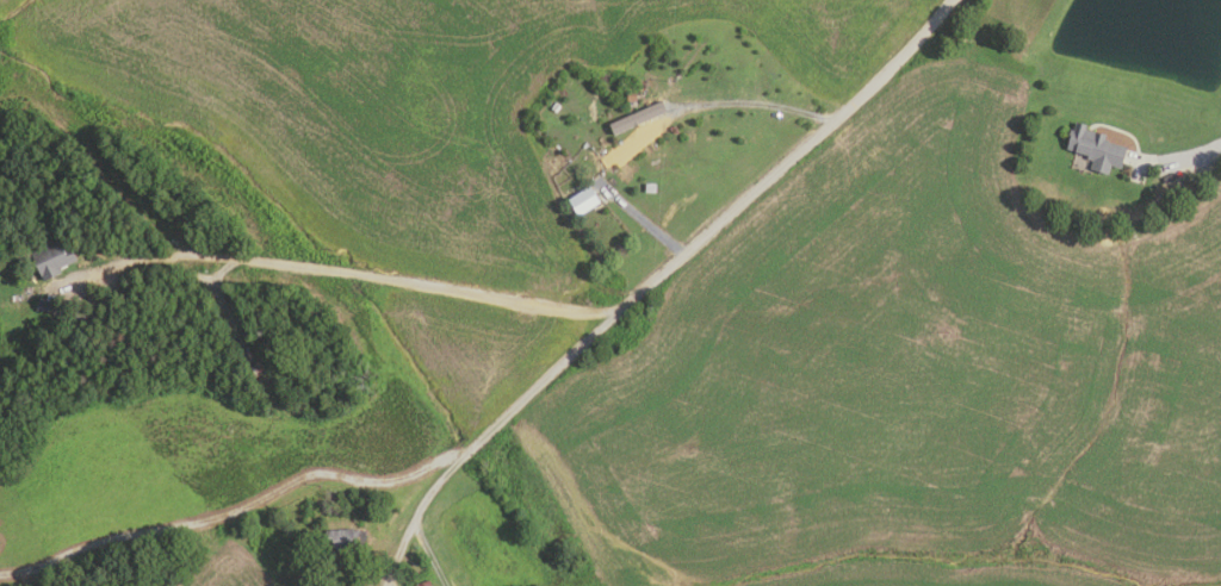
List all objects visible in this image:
building: (620, 149)
building: (1095, 149)
road: (1189, 154)
road: (707, 233)
building: (51, 257)
road: (231, 511)
building: (343, 540)

